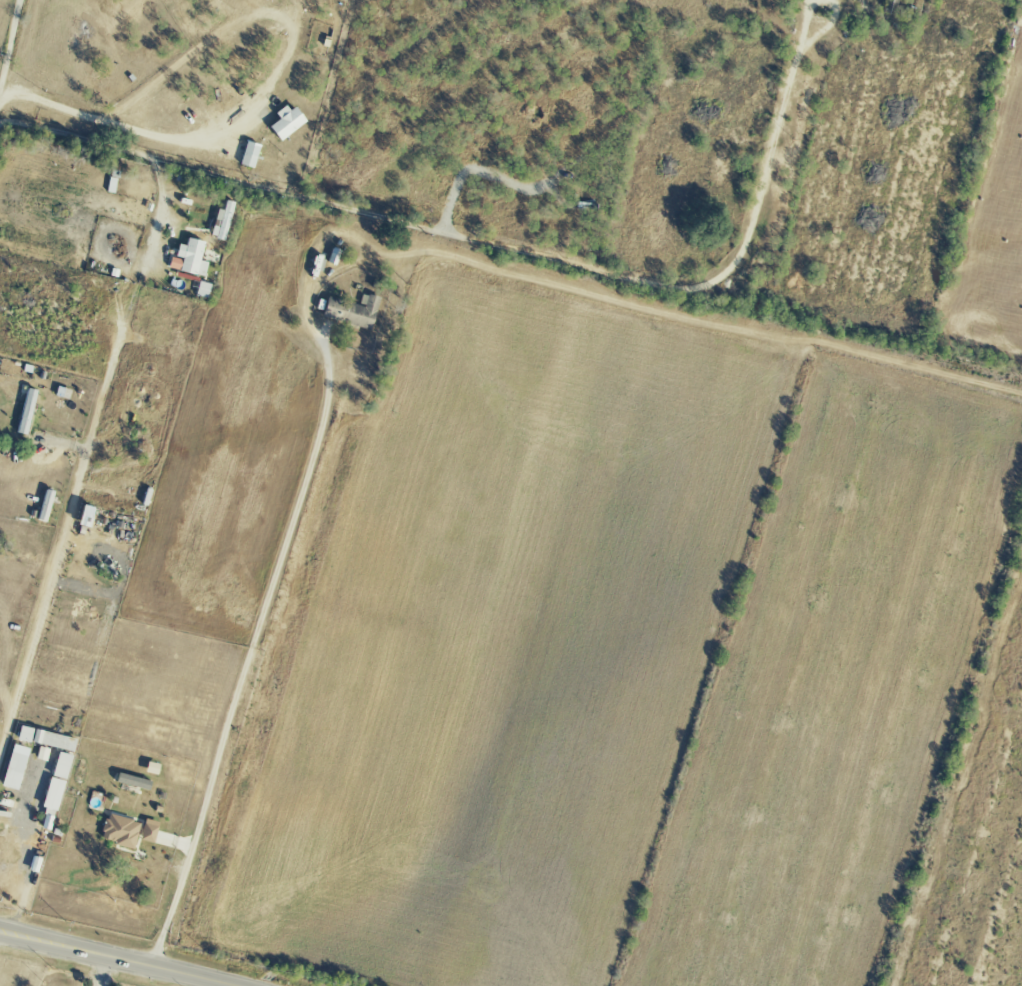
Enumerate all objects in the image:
road: (809, 21)
road: (831, 27)
road: (295, 41)
road: (10, 43)
road: (50, 107)
building: (286, 122)
building: (249, 155)
road: (477, 169)
road: (158, 220)
building: (221, 222)
road: (481, 242)
building: (188, 259)
building: (202, 290)
building: (351, 312)
building: (25, 412)
road: (46, 599)
road: (249, 652)
building: (45, 739)
building: (13, 771)
building: (130, 781)
building: (54, 789)
building: (119, 831)
building: (148, 831)
road: (114, 958)
road: (102, 971)

